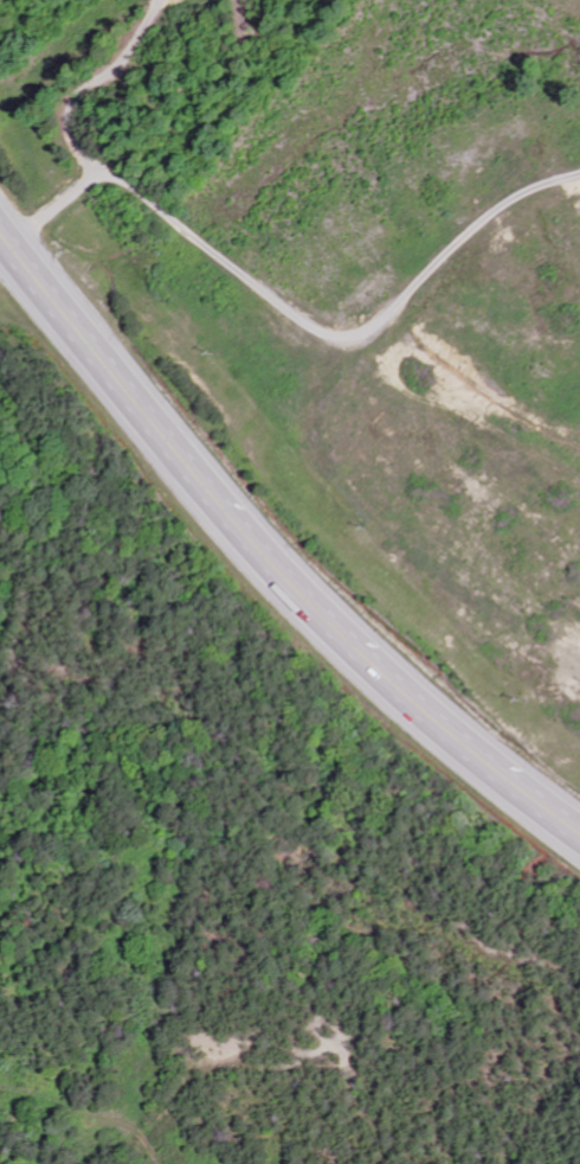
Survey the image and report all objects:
road: (70, 130)
road: (5, 254)
road: (341, 333)
road: (266, 561)

